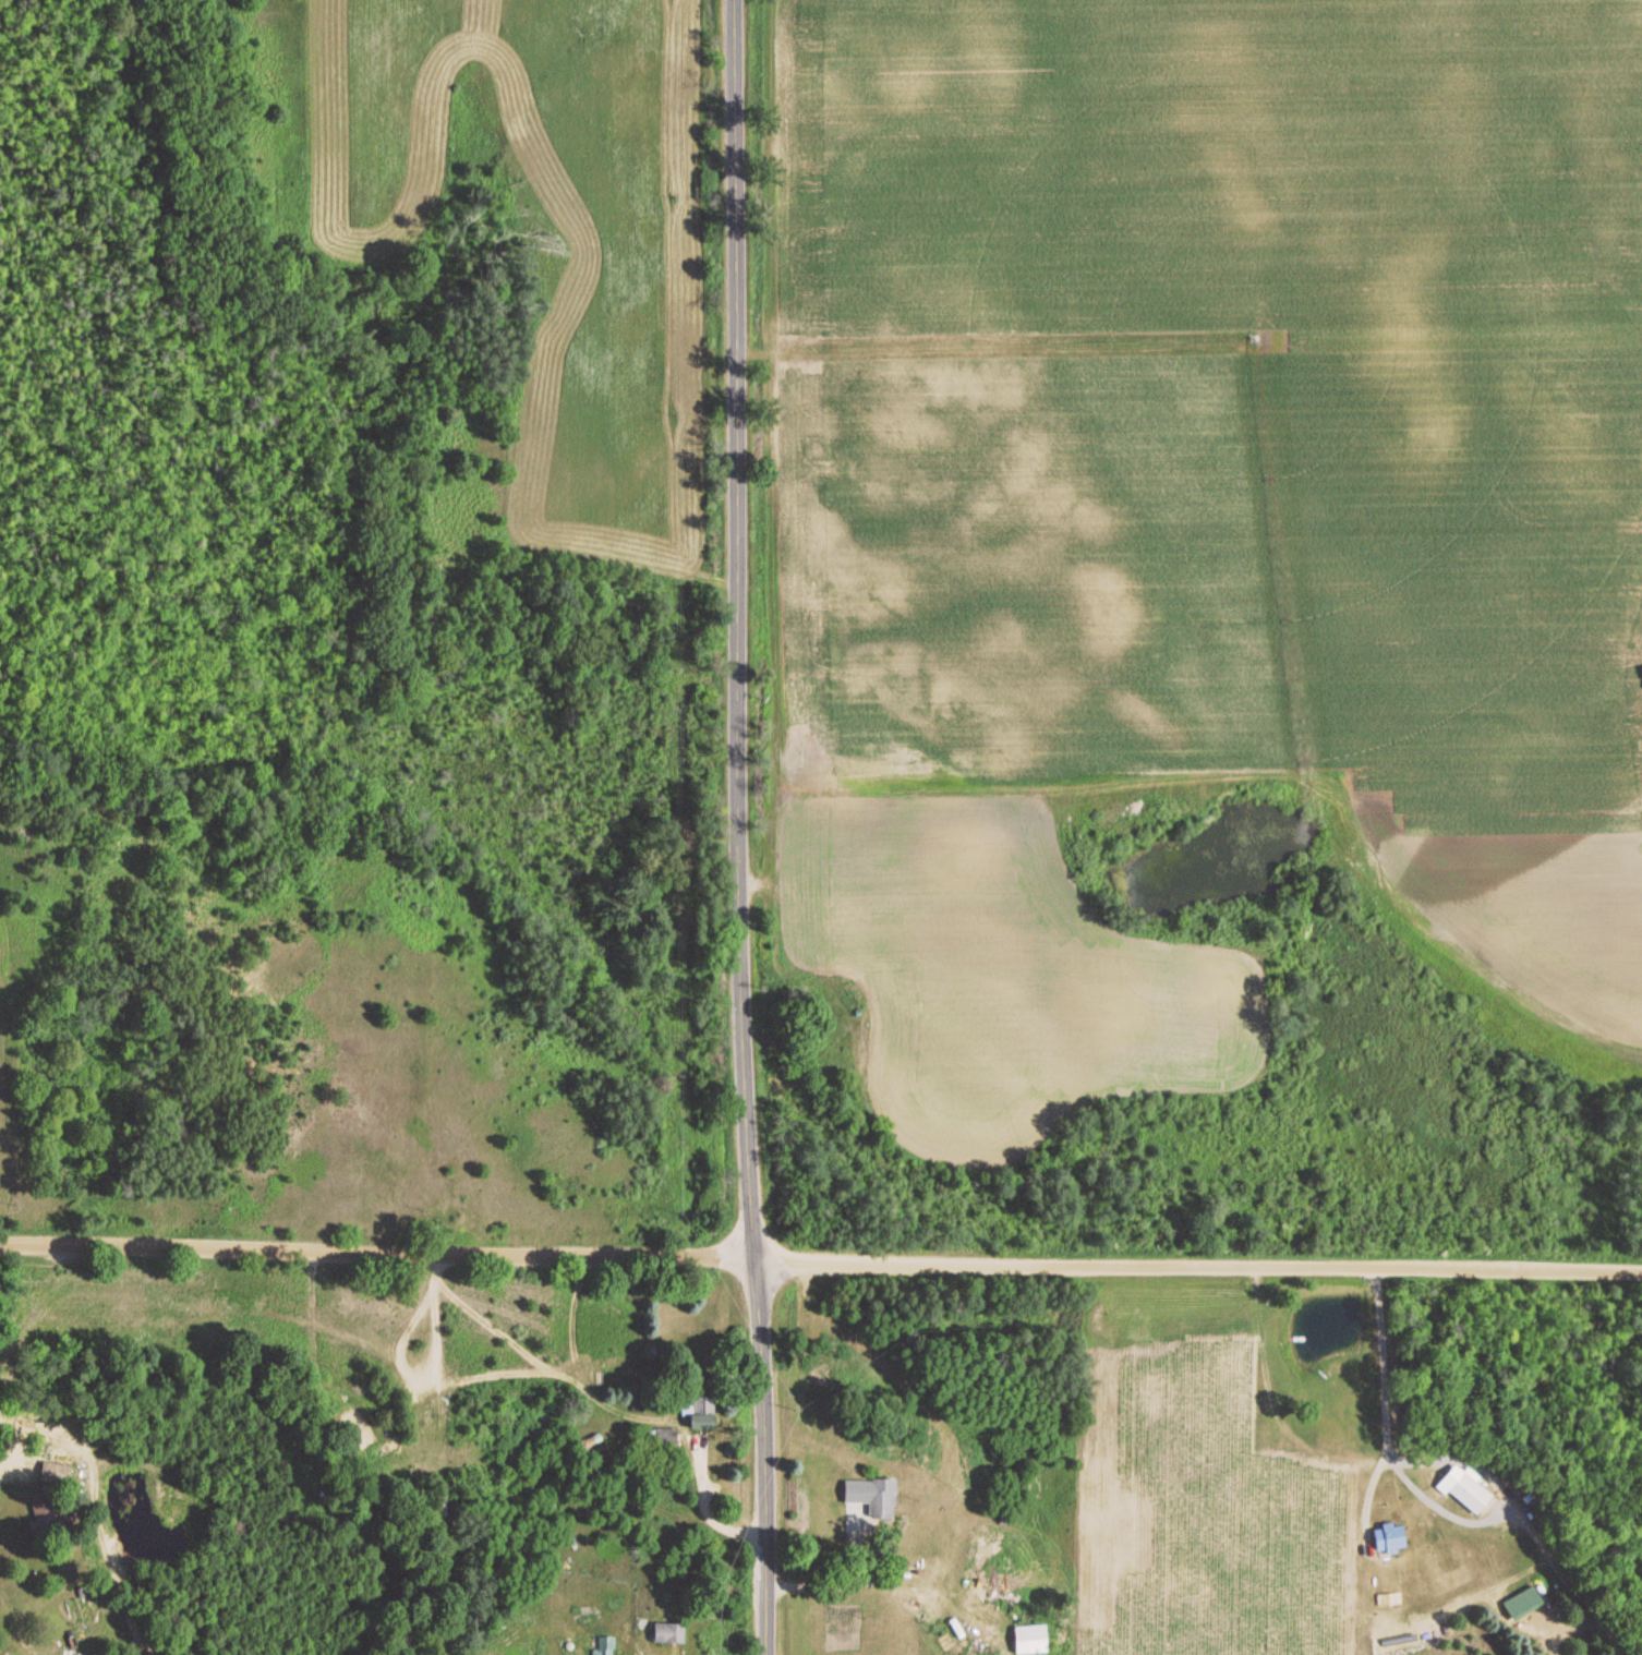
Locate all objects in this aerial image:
crop: (1196, 505)
road: (740, 827)
road: (820, 1261)
building: (699, 1412)
building: (657, 1438)
building: (58, 1473)
building: (1465, 1495)
building: (866, 1496)
building: (48, 1512)
building: (1392, 1536)
building: (1381, 1600)
building: (664, 1634)
building: (1021, 1639)

